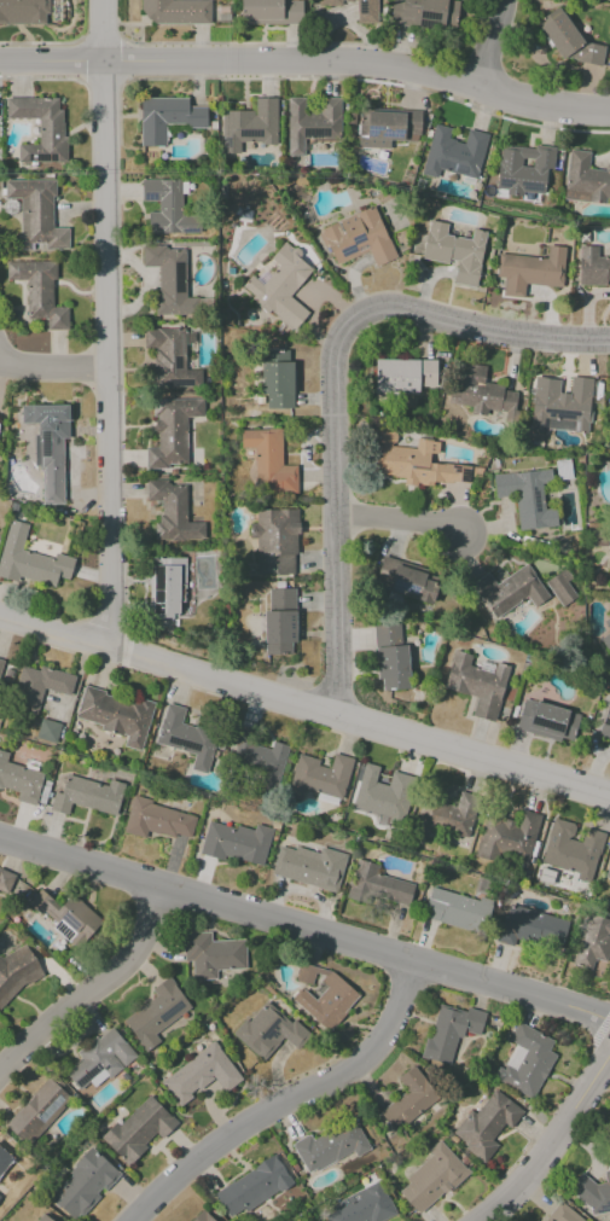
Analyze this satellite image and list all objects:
building: (358, 8)
rooftop solar panel: (362, 10)
building: (174, 11)
building: (23, 12)
building: (271, 12)
building: (424, 13)
rooftop solar panel: (426, 16)
rooftop solar panel: (424, 25)
building: (568, 39)
road: (492, 43)
road: (308, 64)
building: (165, 118)
building: (310, 123)
building: (249, 126)
building: (40, 128)
building: (387, 128)
rooftop solar panel: (371, 130)
rooftop solar panel: (315, 132)
rooftop solar panel: (391, 133)
building: (453, 153)
building: (523, 169)
building: (585, 180)
rooftop solar panel: (504, 182)
rooftop solar panel: (531, 187)
rooftop solar panel: (149, 197)
building: (167, 208)
building: (36, 214)
rooftop solar panel: (190, 231)
building: (356, 238)
rooftop solar panel: (356, 238)
rooftop solar panel: (347, 251)
building: (455, 251)
building: (592, 267)
building: (530, 271)
building: (172, 281)
building: (281, 286)
building: (39, 291)
road: (106, 321)
building: (169, 357)
rooftop solar panel: (178, 362)
road: (52, 365)
building: (402, 376)
building: (275, 378)
rooftop solar panel: (178, 384)
road: (331, 384)
building: (486, 395)
building: (559, 405)
rooftop solar panel: (560, 413)
rooftop solar panel: (544, 425)
rooftop solar panel: (575, 425)
building: (172, 431)
rooftop solar panel: (43, 444)
building: (48, 446)
building: (268, 461)
building: (413, 461)
rooftop solar panel: (563, 470)
building: (527, 496)
building: (172, 512)
road: (401, 523)
building: (274, 541)
building: (29, 559)
building: (407, 580)
rooftop solar panel: (156, 581)
building: (167, 587)
rooftop solar panel: (402, 588)
building: (560, 588)
building: (509, 591)
rooftop solar panel: (156, 598)
rooftop solar panel: (156, 606)
building: (279, 622)
building: (608, 623)
building: (606, 640)
building: (390, 656)
building: (0, 661)
building: (477, 684)
building: (39, 686)
road: (303, 708)
building: (115, 715)
building: (547, 721)
building: (605, 722)
rooftop solar panel: (550, 723)
rooftop solar panel: (606, 723)
building: (47, 731)
building: (186, 738)
rooftop solar panel: (185, 745)
building: (256, 756)
building: (319, 778)
building: (19, 780)
building: (382, 793)
building: (87, 796)
building: (446, 816)
building: (157, 820)
building: (507, 838)
building: (236, 843)
building: (571, 849)
building: (309, 866)
building: (608, 871)
building: (5, 882)
building: (376, 885)
building: (457, 909)
building: (65, 917)
building: (531, 928)
road: (306, 930)
building: (592, 941)
building: (211, 954)
building: (17, 972)
building: (321, 996)
road: (89, 999)
rooftop solar panel: (170, 1011)
building: (156, 1013)
building: (267, 1030)
building: (449, 1030)
rooftop solar panel: (269, 1031)
building: (99, 1059)
building: (525, 1060)
rooftop solar panel: (87, 1075)
building: (199, 1075)
road: (294, 1098)
building: (408, 1099)
building: (36, 1111)
building: (484, 1124)
building: (138, 1129)
road: (550, 1139)
building: (330, 1146)
building: (4, 1158)
building: (431, 1179)
building: (82, 1185)
building: (251, 1187)
building: (592, 1193)
building: (360, 1207)
building: (562, 1214)
building: (202, 1216)
building: (40, 1217)

